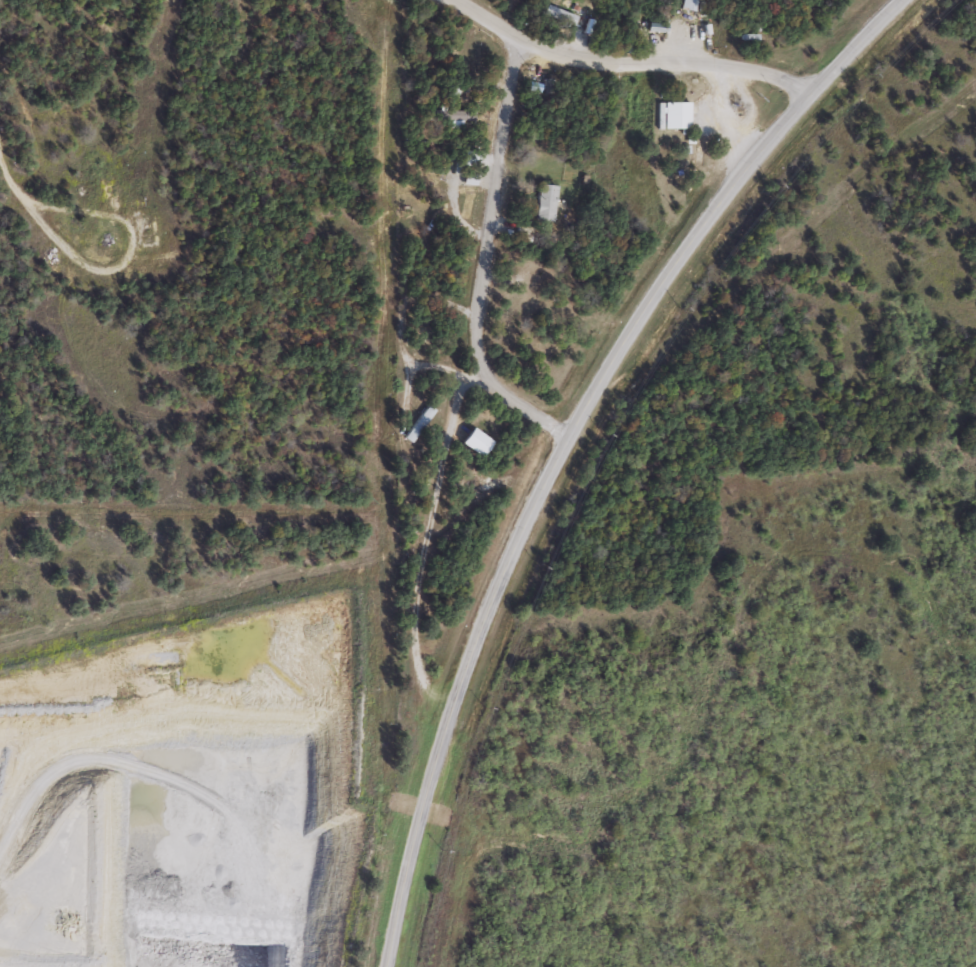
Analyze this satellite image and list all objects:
building: (560, 14)
building: (749, 36)
road: (620, 62)
building: (677, 114)
building: (452, 116)
building: (547, 202)
building: (147, 234)
road: (487, 264)
building: (528, 289)
building: (419, 422)
building: (476, 440)
road: (568, 441)
road: (10, 962)

